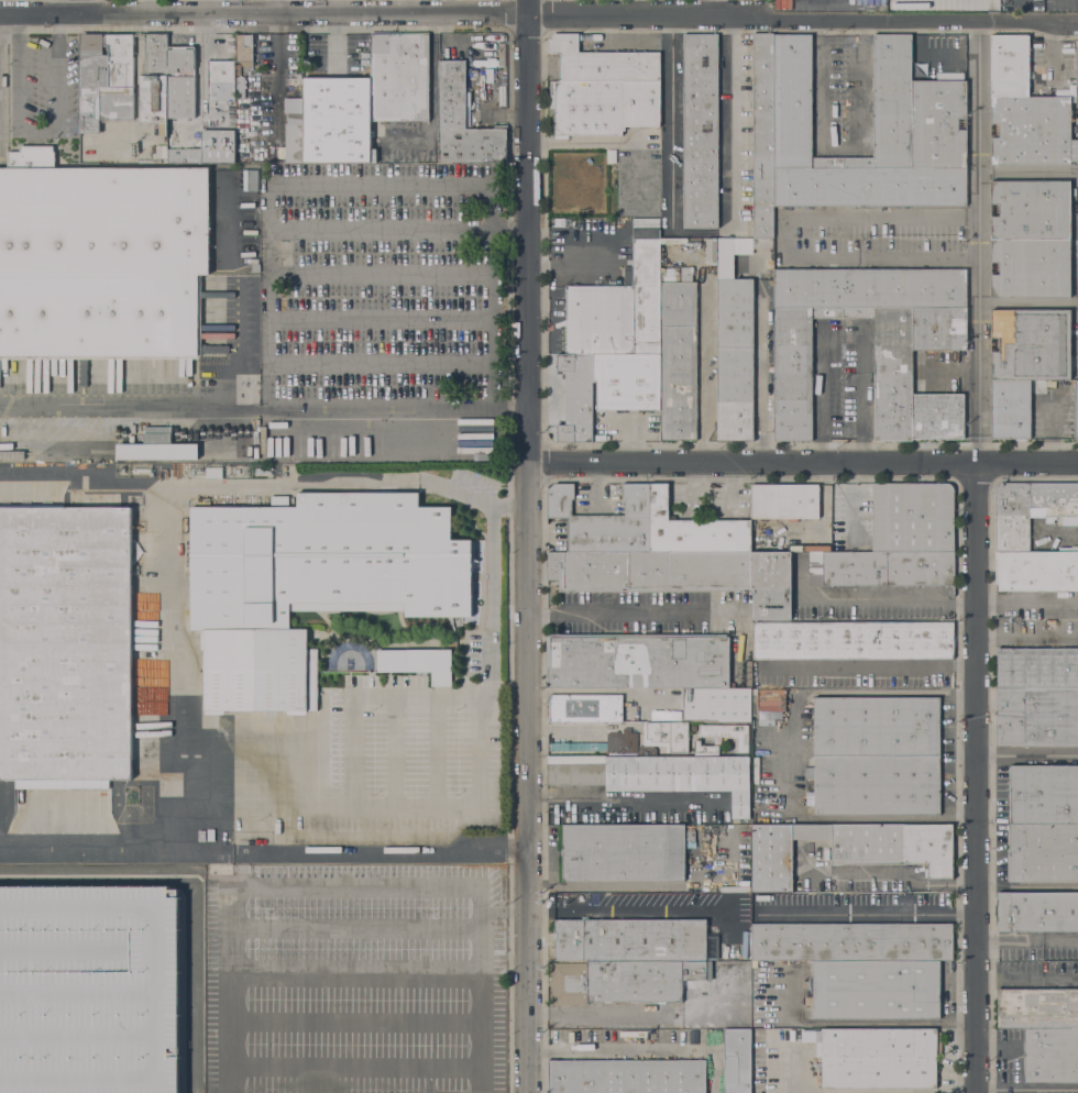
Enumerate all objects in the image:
road: (714, 8)
road: (533, 15)
building: (244, 47)
building: (603, 62)
building: (1077, 71)
building: (399, 76)
road: (81, 77)
building: (106, 79)
building: (221, 80)
building: (154, 81)
building: (180, 81)
building: (240, 87)
building: (603, 106)
building: (293, 109)
building: (1025, 111)
building: (920, 119)
building: (337, 120)
building: (463, 122)
building: (700, 130)
road: (42, 131)
road: (976, 140)
road: (586, 141)
building: (294, 143)
building: (218, 146)
building: (162, 152)
road: (843, 152)
building: (32, 155)
building: (184, 155)
building: (373, 155)
building: (612, 155)
building: (250, 179)
building: (762, 221)
road: (291, 229)
road: (702, 231)
building: (1031, 239)
building: (710, 251)
road: (868, 257)
building: (102, 261)
building: (255, 267)
parking lot: (380, 280)
road: (494, 298)
building: (618, 309)
building: (679, 357)
building: (1025, 363)
road: (818, 371)
building: (892, 371)
building: (627, 380)
road: (759, 383)
road: (862, 393)
building: (576, 397)
road: (264, 406)
building: (1076, 407)
building: (157, 446)
building: (12, 454)
road: (803, 465)
building: (213, 472)
road: (82, 485)
road: (165, 500)
building: (784, 500)
road: (848, 505)
building: (1031, 510)
building: (913, 517)
building: (604, 522)
building: (693, 529)
road: (528, 545)
building: (810, 548)
building: (888, 568)
building: (588, 571)
building: (690, 572)
building: (1036, 572)
building: (310, 584)
building: (771, 585)
road: (866, 598)
road: (1025, 599)
road: (635, 612)
road: (1026, 636)
building: (853, 640)
building: (65, 642)
building: (415, 660)
building: (638, 660)
road: (868, 665)
building: (1037, 667)
building: (441, 678)
building: (717, 704)
building: (586, 707)
building: (665, 715)
building: (1036, 716)
road: (571, 726)
building: (876, 727)
building: (729, 735)
building: (704, 747)
road: (396, 750)
road: (437, 750)
road: (790, 753)
parking lot: (402, 763)
building: (669, 765)
building: (575, 771)
road: (975, 777)
building: (875, 785)
building: (1044, 793)
road: (626, 804)
road: (267, 806)
road: (459, 807)
building: (210, 835)
building: (201, 836)
road: (92, 837)
building: (895, 846)
road: (208, 847)
building: (623, 851)
building: (1043, 852)
road: (380, 853)
building: (778, 854)
road: (904, 876)
road: (649, 887)
road: (194, 890)
road: (648, 906)
road: (867, 912)
building: (1037, 912)
building: (629, 939)
building: (851, 941)
road: (1026, 978)
parking lot: (355, 979)
building: (641, 980)
building: (569, 983)
building: (89, 989)
parking garage: (89, 989)
building: (876, 990)
road: (150, 991)
building: (1037, 1008)
road: (857, 1023)
road: (631, 1049)
building: (1050, 1056)
building: (876, 1058)
building: (737, 1060)
building: (817, 1067)
building: (628, 1077)
road: (857, 1091)

